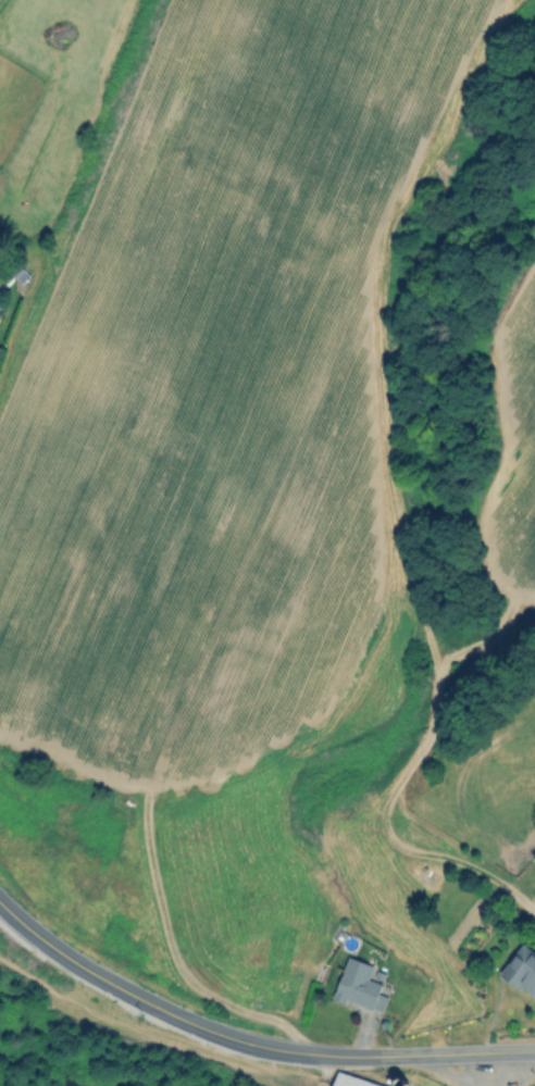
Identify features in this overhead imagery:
building: (521, 970)
building: (360, 984)
road: (248, 1039)
road: (327, 1069)
building: (350, 1081)

